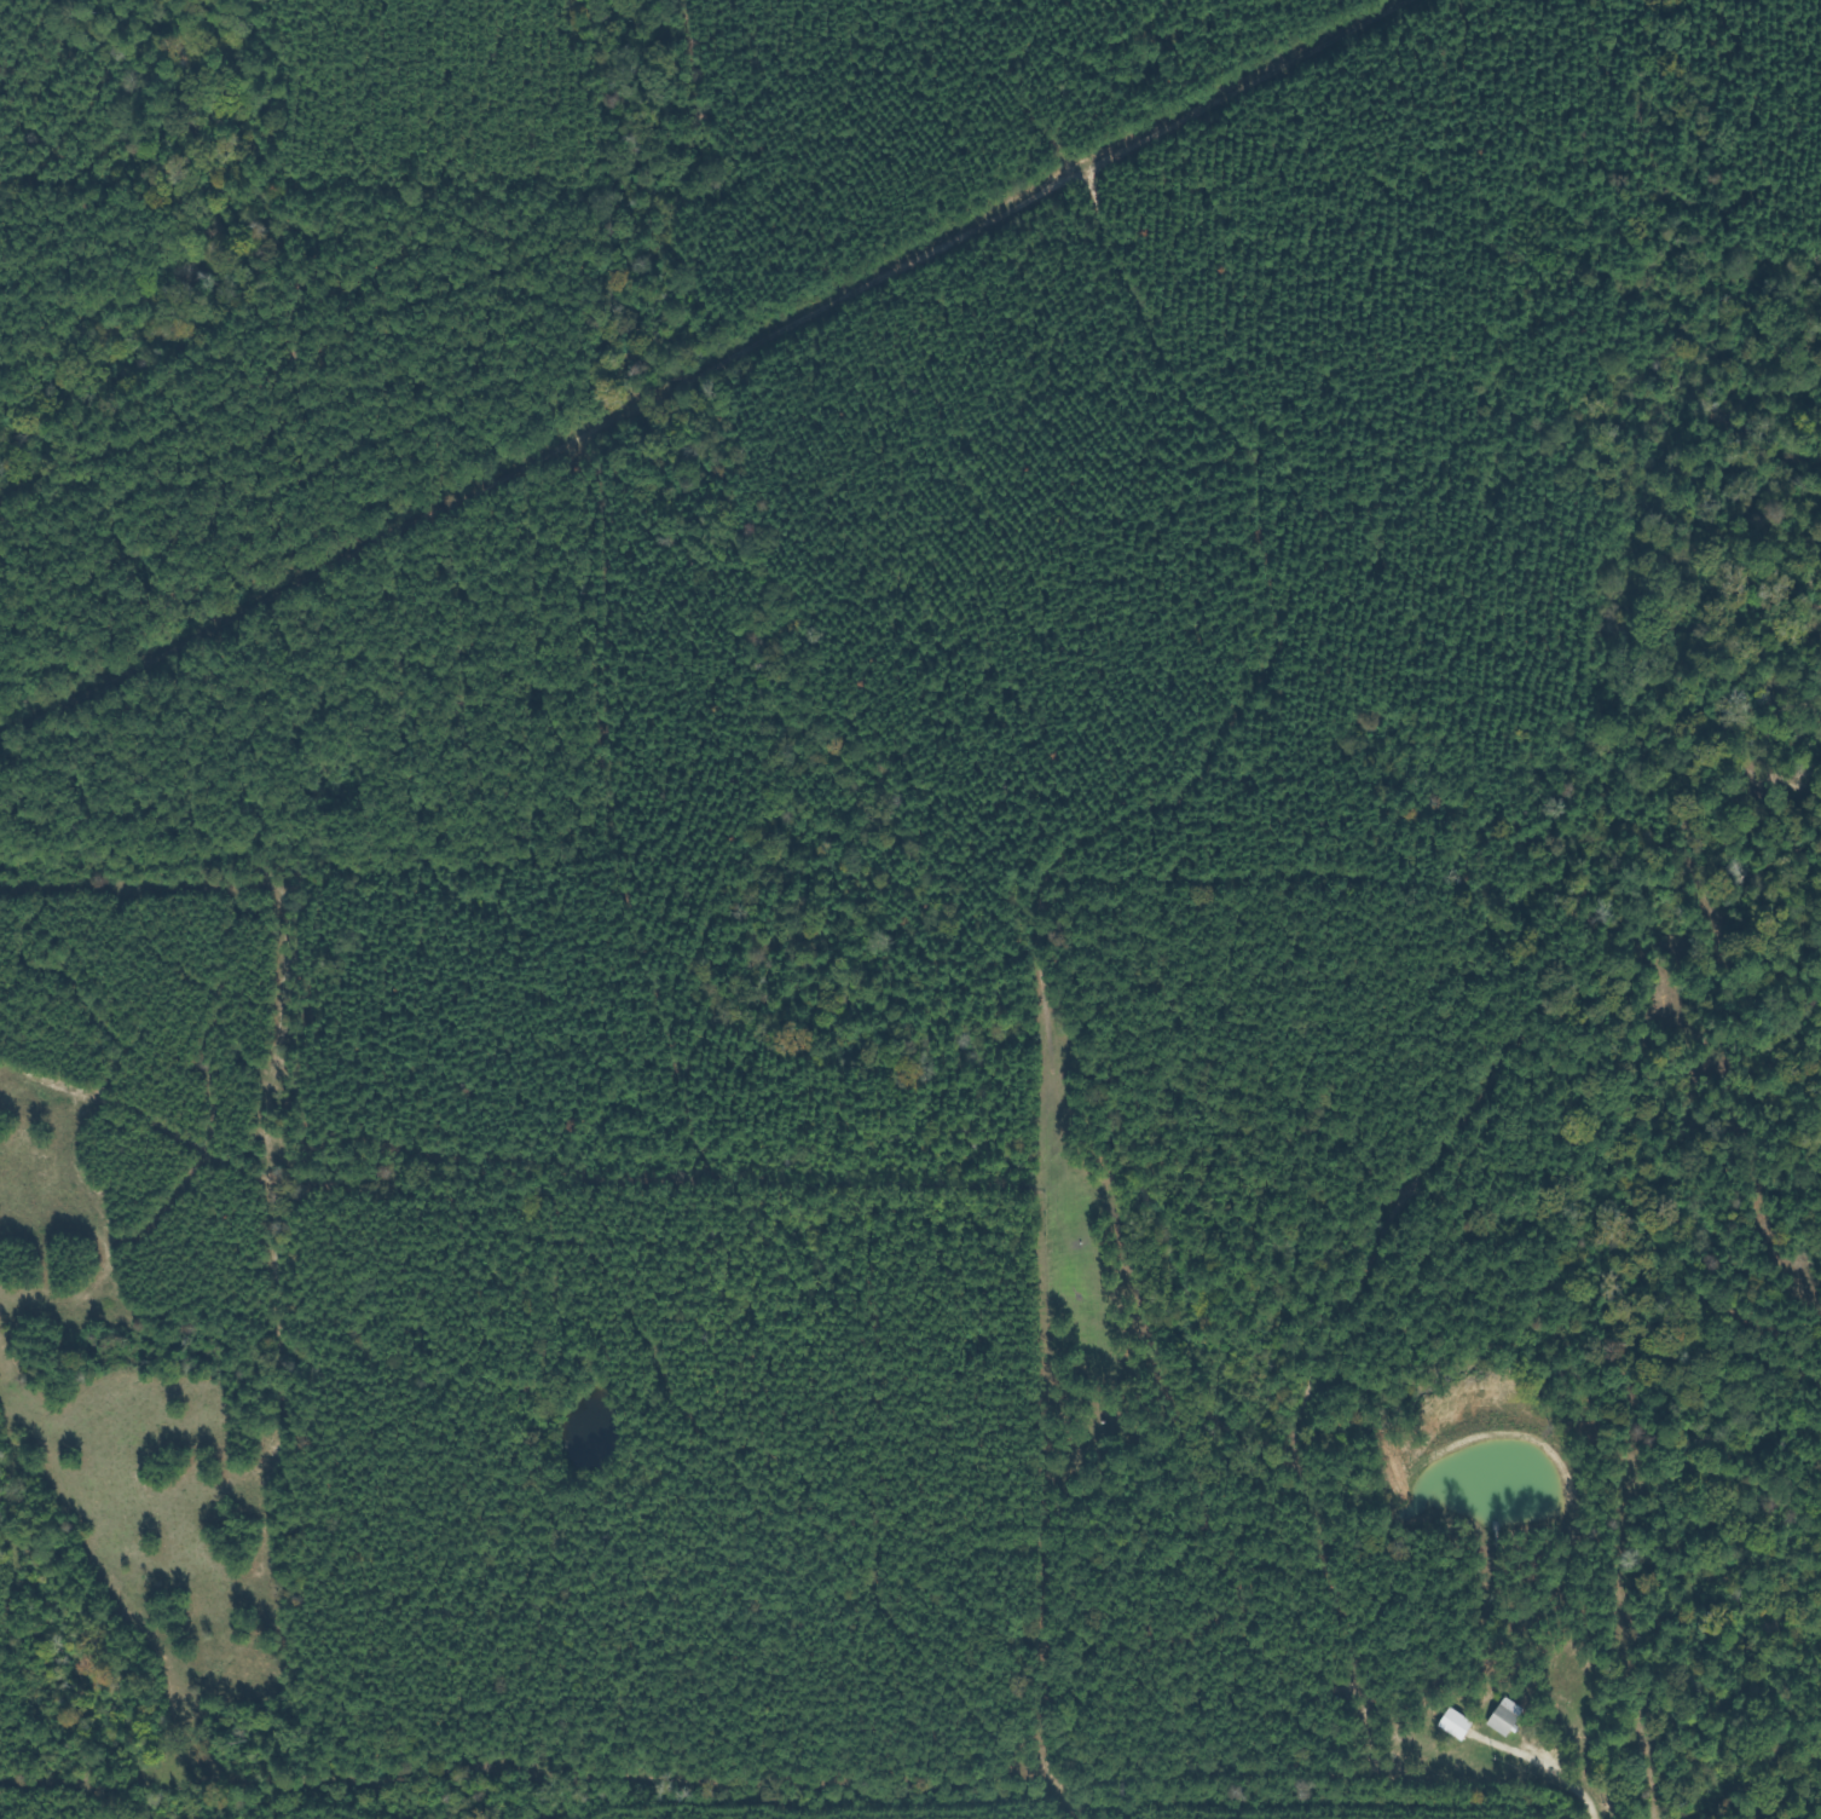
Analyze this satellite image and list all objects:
building: (1498, 1720)

